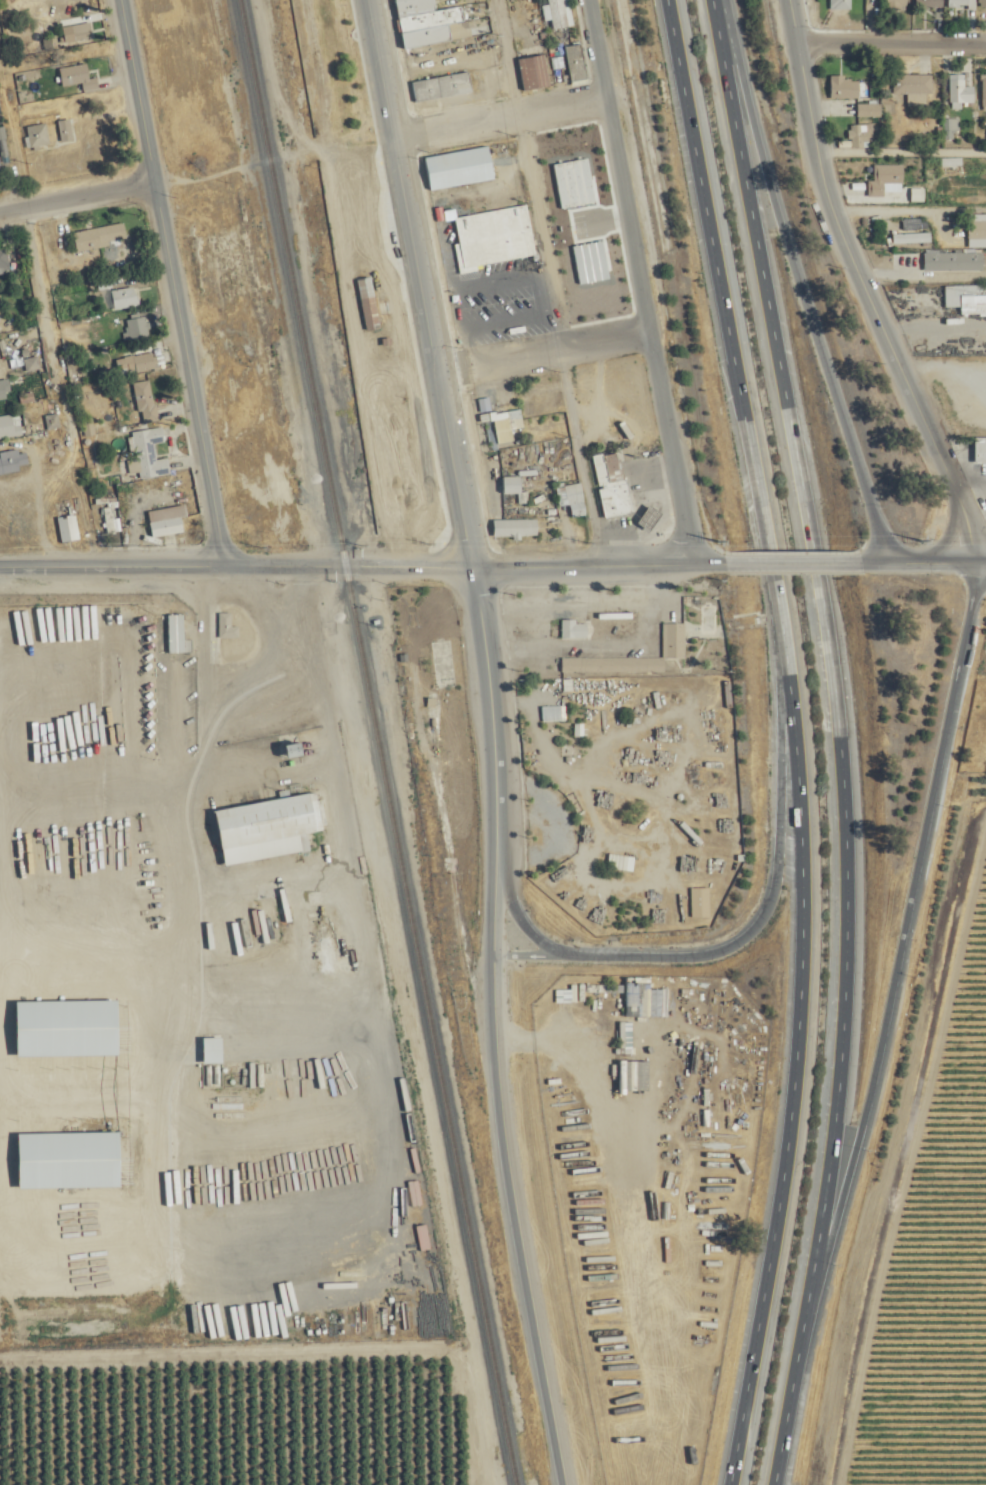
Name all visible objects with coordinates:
building: (929, 3)
building: (960, 3)
building: (982, 3)
building: (841, 4)
building: (896, 4)
building: (561, 13)
building: (425, 22)
building: (82, 32)
road: (890, 35)
road: (506, 51)
building: (577, 62)
building: (534, 71)
building: (79, 77)
building: (445, 87)
building: (844, 87)
building: (914, 87)
building: (960, 92)
building: (983, 92)
road: (495, 107)
building: (869, 110)
building: (952, 128)
building: (68, 130)
building: (40, 135)
building: (862, 135)
road: (900, 158)
building: (0, 165)
building: (459, 167)
building: (887, 180)
road: (75, 188)
road: (894, 217)
road: (548, 218)
building: (977, 230)
building: (498, 233)
building: (101, 237)
building: (911, 238)
building: (5, 260)
building: (953, 261)
building: (231, 262)
road: (636, 276)
road: (169, 278)
road: (799, 278)
road: (861, 282)
road: (418, 284)
building: (126, 298)
building: (966, 298)
building: (369, 301)
building: (139, 326)
road: (725, 333)
road: (538, 343)
building: (138, 363)
building: (6, 390)
building: (148, 401)
building: (505, 423)
building: (91, 426)
building: (10, 427)
road: (582, 448)
building: (980, 449)
building: (151, 453)
building: (14, 460)
building: (612, 484)
building: (512, 485)
building: (577, 500)
building: (648, 518)
building: (251, 519)
building: (111, 520)
building: (168, 520)
building: (69, 528)
building: (515, 528)
road: (758, 553)
road: (824, 553)
road: (914, 553)
road: (980, 553)
road: (239, 558)
road: (599, 559)
building: (229, 626)
building: (576, 630)
building: (675, 641)
road: (615, 652)
building: (612, 666)
road: (495, 713)
building: (555, 714)
road: (838, 721)
railway: (382, 742)
building: (286, 751)
building: (265, 829)
building: (622, 863)
road: (771, 894)
road: (523, 913)
road: (531, 954)
road: (888, 1003)
building: (61, 1029)
road: (789, 1077)
building: (270, 1137)
building: (332, 1141)
building: (64, 1161)
building: (273, 1164)
road: (511, 1175)
crop: (934, 1261)
road: (775, 1466)

